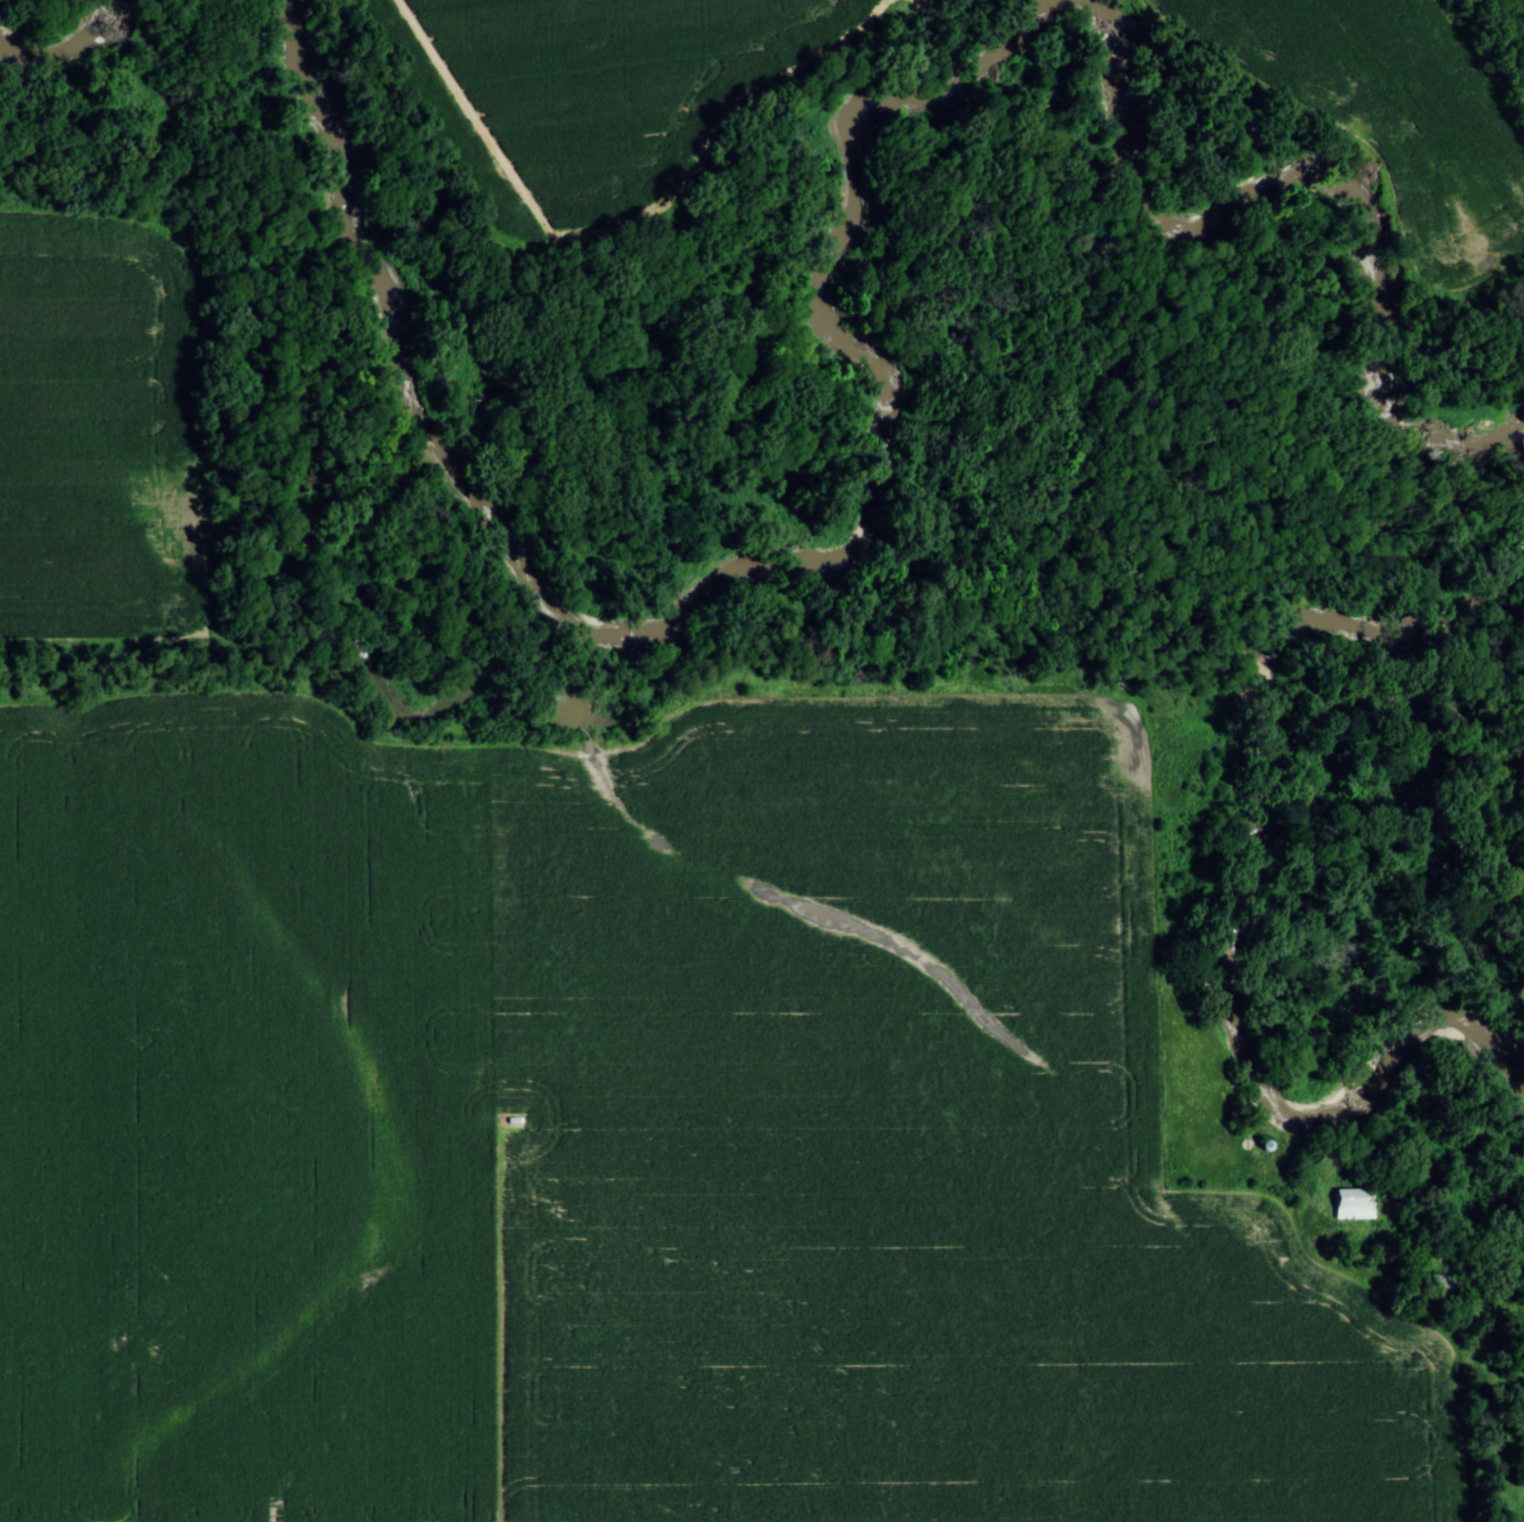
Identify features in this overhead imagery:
building: (1352, 1203)

